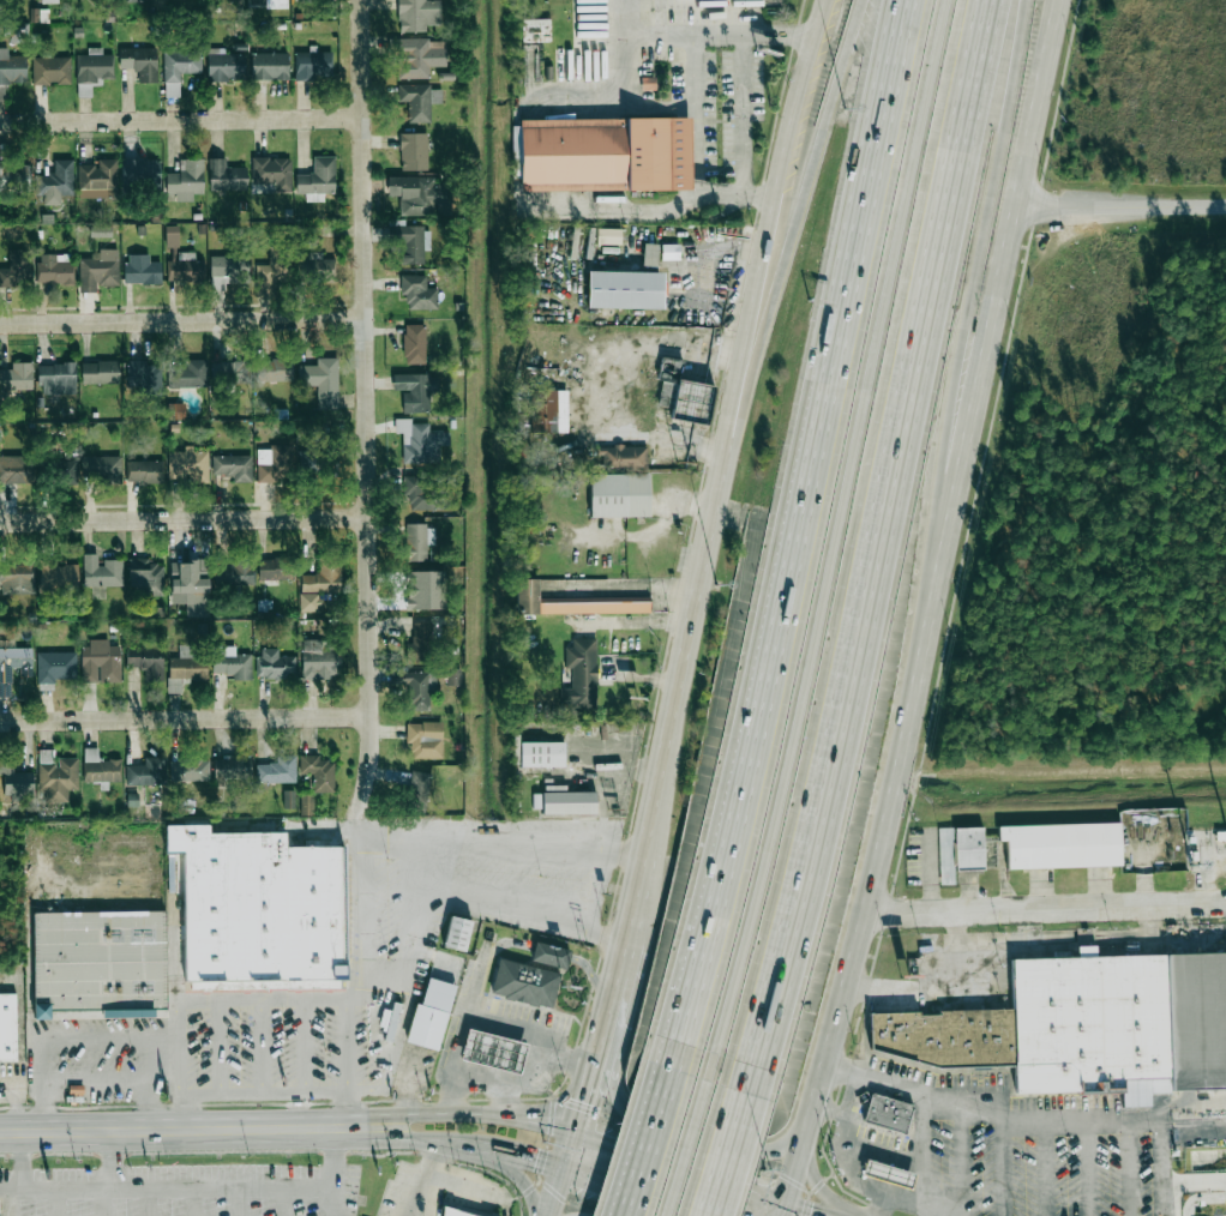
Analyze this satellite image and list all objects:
building: (55, 0)
building: (133, 1)
building: (268, 4)
building: (417, 14)
building: (535, 30)
road: (685, 35)
building: (416, 55)
building: (179, 64)
building: (313, 65)
building: (137, 66)
building: (270, 66)
building: (226, 67)
building: (92, 70)
building: (11, 71)
building: (50, 71)
road: (695, 72)
road: (744, 74)
building: (416, 102)
road: (644, 110)
road: (180, 120)
building: (413, 151)
building: (607, 153)
building: (271, 173)
building: (14, 175)
building: (142, 176)
building: (226, 176)
building: (185, 177)
building: (318, 177)
building: (96, 179)
building: (54, 182)
building: (419, 194)
road: (668, 207)
road: (1119, 209)
road: (793, 222)
building: (100, 231)
building: (608, 235)
building: (172, 236)
building: (408, 242)
building: (671, 252)
building: (649, 254)
building: (16, 267)
building: (55, 269)
building: (142, 269)
building: (317, 270)
building: (185, 271)
building: (97, 272)
building: (229, 272)
building: (270, 272)
building: (625, 289)
building: (414, 293)
road: (181, 320)
building: (414, 343)
road: (966, 360)
building: (259, 371)
building: (100, 373)
building: (16, 375)
building: (185, 375)
building: (55, 377)
building: (145, 377)
building: (320, 381)
building: (413, 392)
building: (684, 393)
road: (366, 408)
building: (175, 410)
building: (543, 411)
building: (416, 444)
building: (623, 459)
building: (318, 463)
building: (188, 465)
building: (274, 465)
building: (232, 466)
building: (101, 468)
building: (62, 469)
building: (14, 470)
building: (144, 471)
road: (717, 486)
building: (423, 493)
building: (617, 496)
road: (184, 518)
road: (793, 536)
building: (415, 542)
road: (836, 542)
road: (878, 549)
building: (274, 571)
building: (102, 572)
building: (16, 573)
building: (233, 573)
building: (187, 576)
building: (145, 577)
building: (323, 577)
building: (58, 578)
building: (417, 591)
building: (578, 597)
road: (931, 607)
building: (421, 643)
building: (319, 661)
building: (101, 663)
building: (146, 663)
building: (274, 664)
building: (232, 667)
building: (54, 668)
building: (185, 670)
building: (12, 672)
building: (581, 674)
building: (452, 676)
building: (419, 691)
road: (185, 717)
building: (425, 741)
building: (543, 754)
building: (98, 769)
building: (232, 769)
building: (144, 771)
building: (187, 771)
building: (276, 771)
building: (319, 772)
building: (55, 777)
building: (14, 782)
building: (417, 789)
building: (289, 800)
building: (570, 802)
road: (492, 844)
building: (1062, 845)
building: (969, 849)
building: (945, 856)
road: (477, 905)
building: (259, 910)
road: (1045, 911)
road: (362, 916)
building: (459, 933)
building: (1086, 951)
road: (552, 953)
building: (552, 955)
road: (483, 957)
building: (100, 963)
road: (595, 977)
building: (525, 982)
road: (931, 988)
road: (282, 998)
road: (477, 1015)
building: (7, 1027)
building: (428, 1027)
building: (1083, 1027)
road: (608, 1031)
road: (98, 1037)
road: (387, 1045)
road: (178, 1047)
building: (495, 1051)
road: (535, 1068)
road: (95, 1078)
road: (497, 1084)
road: (366, 1091)
road: (283, 1092)
traffic signals: (591, 1103)
road: (590, 1109)
road: (1021, 1112)
building: (888, 1113)
road: (846, 1114)
road: (560, 1127)
road: (163, 1128)
road: (386, 1136)
road: (692, 1137)
road: (644, 1142)
traffic signals: (615, 1144)
road: (469, 1145)
road: (683, 1148)
road: (728, 1156)
road: (112, 1157)
road: (23, 1158)
road: (926, 1158)
road: (962, 1158)
traffic signals: (536, 1161)
road: (1005, 1163)
road: (1045, 1164)
road: (1088, 1167)
road: (1161, 1167)
road: (327, 1172)
road: (813, 1172)
road: (570, 1174)
building: (888, 1174)
road: (522, 1176)
road: (596, 1179)
road: (863, 1180)
road: (438, 1181)
road: (163, 1185)
road: (1162, 1198)
road: (55, 1200)
road: (110, 1200)
road: (142, 1200)
road: (191, 1200)
road: (233, 1200)
road: (4, 1202)
road: (881, 1202)
road: (793, 1211)
building: (453, 1212)
road: (779, 1212)

